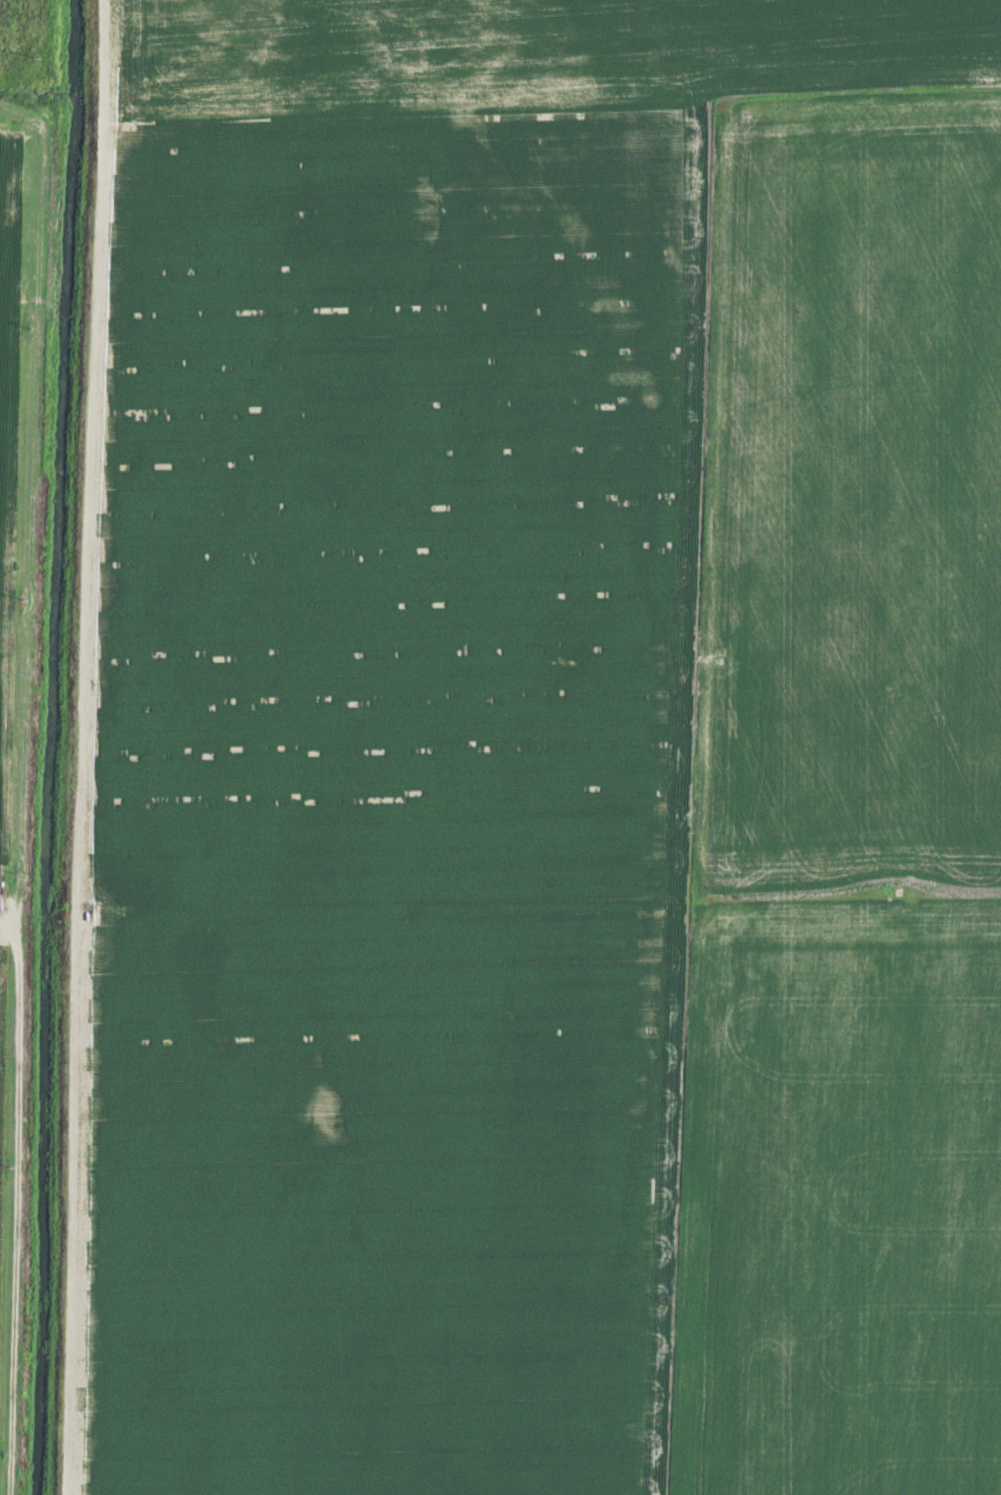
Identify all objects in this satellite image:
road: (707, 355)
road: (84, 747)
road: (27, 785)

